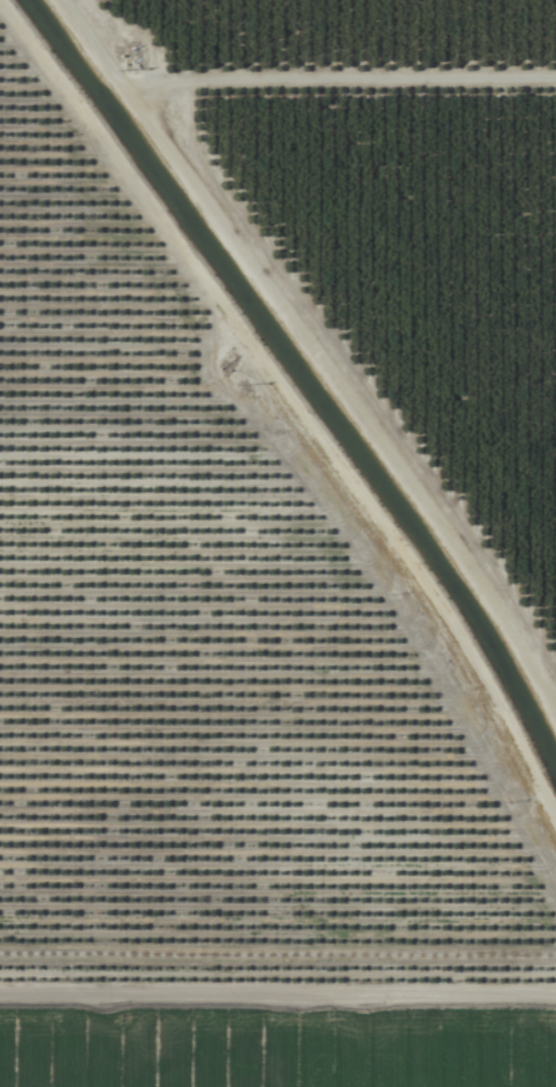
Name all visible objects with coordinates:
road: (334, 287)
road: (285, 463)
crop: (278, 543)
road: (278, 1004)

